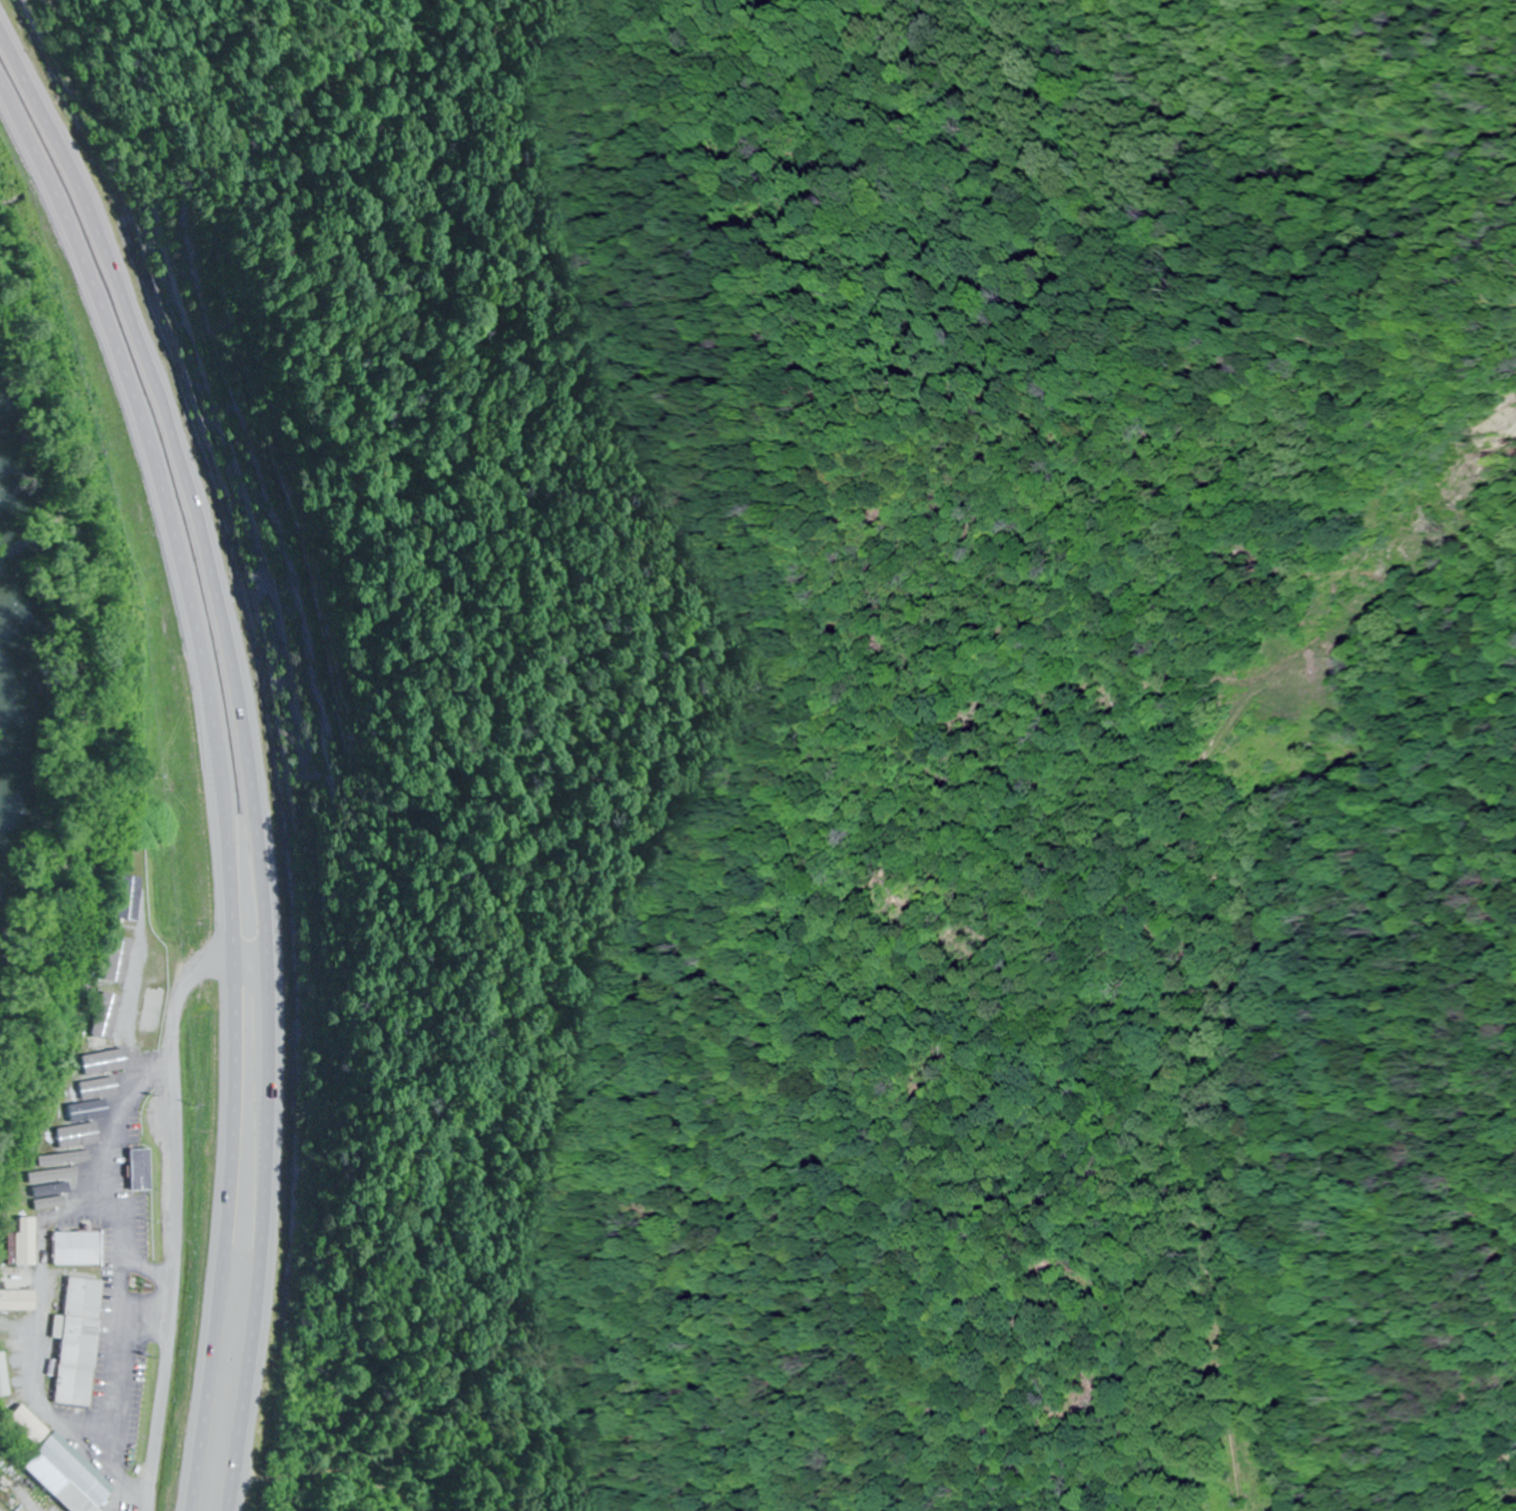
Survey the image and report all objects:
river: (19, 640)
road: (250, 743)
road: (218, 782)
building: (129, 895)
building: (124, 961)
building: (153, 1026)
building: (106, 1062)
building: (155, 1116)
building: (70, 1143)
building: (132, 1167)
building: (45, 1189)
road: (177, 1202)
building: (19, 1245)
building: (76, 1249)
building: (17, 1301)
building: (79, 1342)
building: (3, 1377)
building: (62, 1467)

